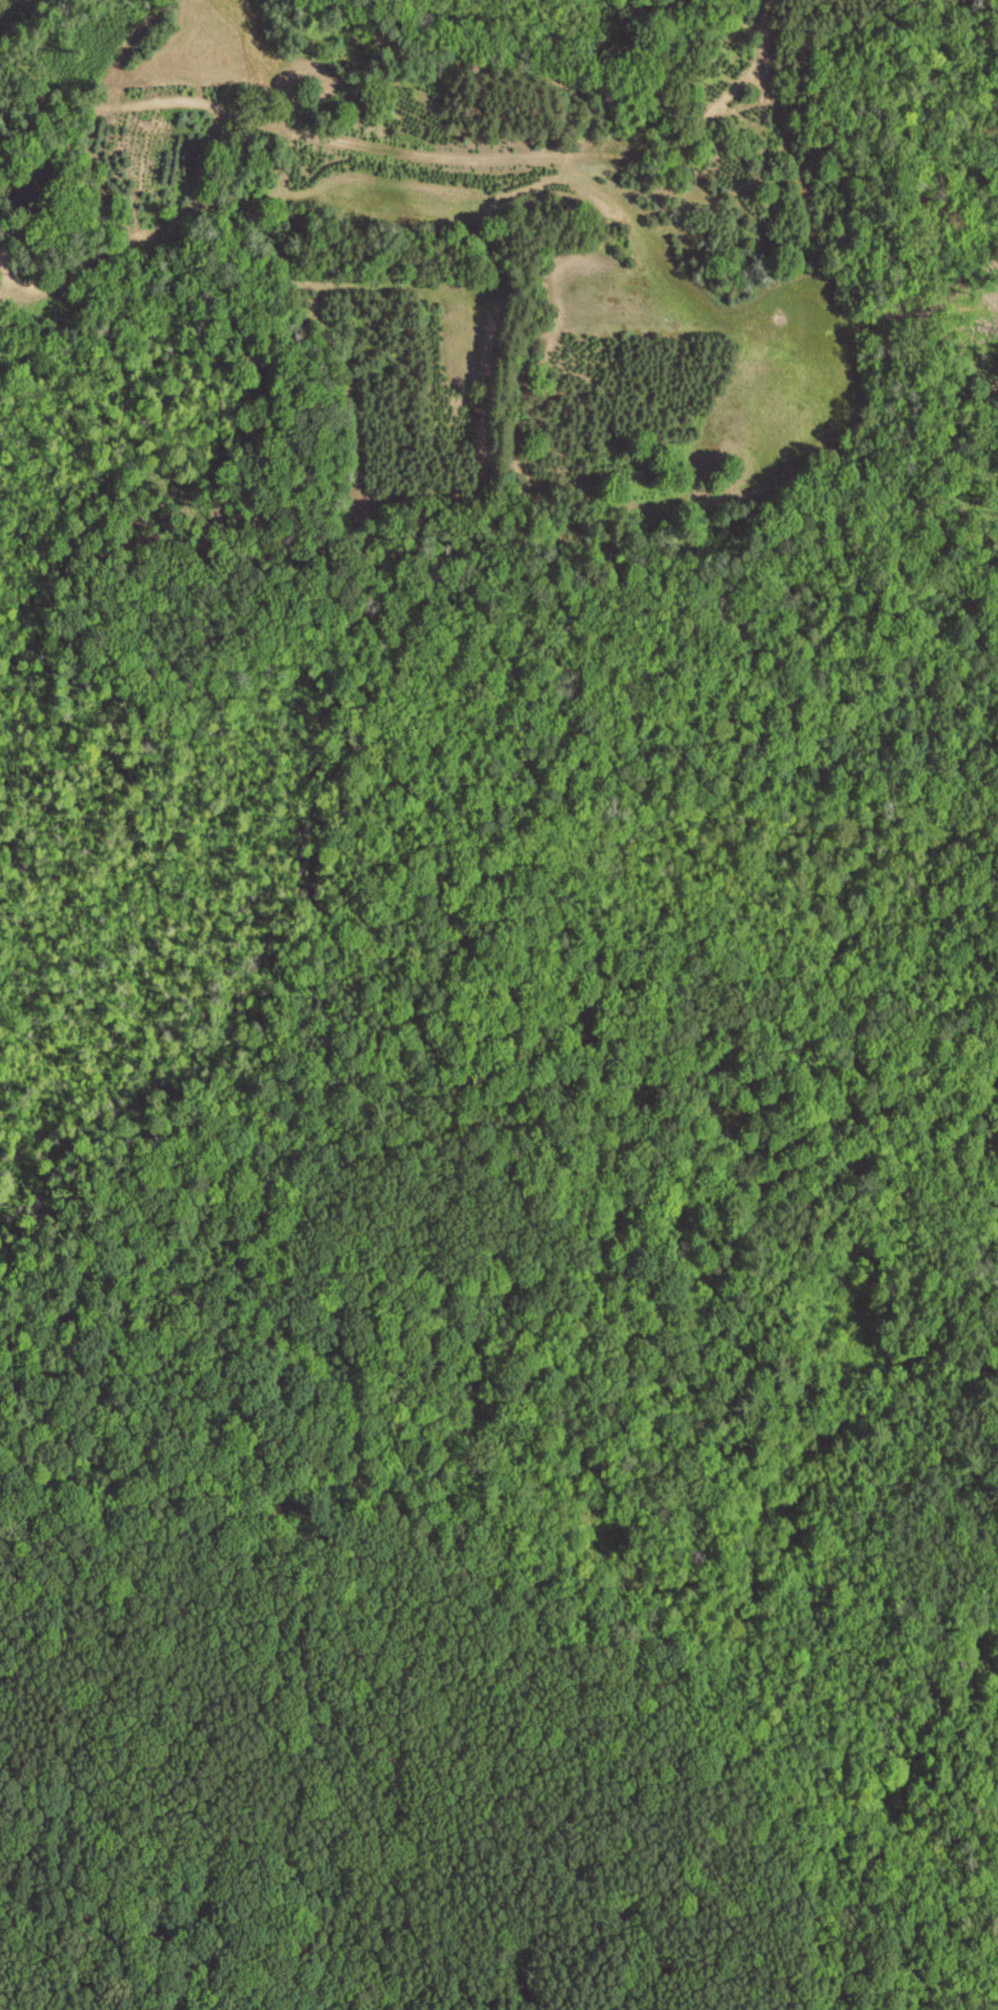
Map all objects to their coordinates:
road: (424, 158)

